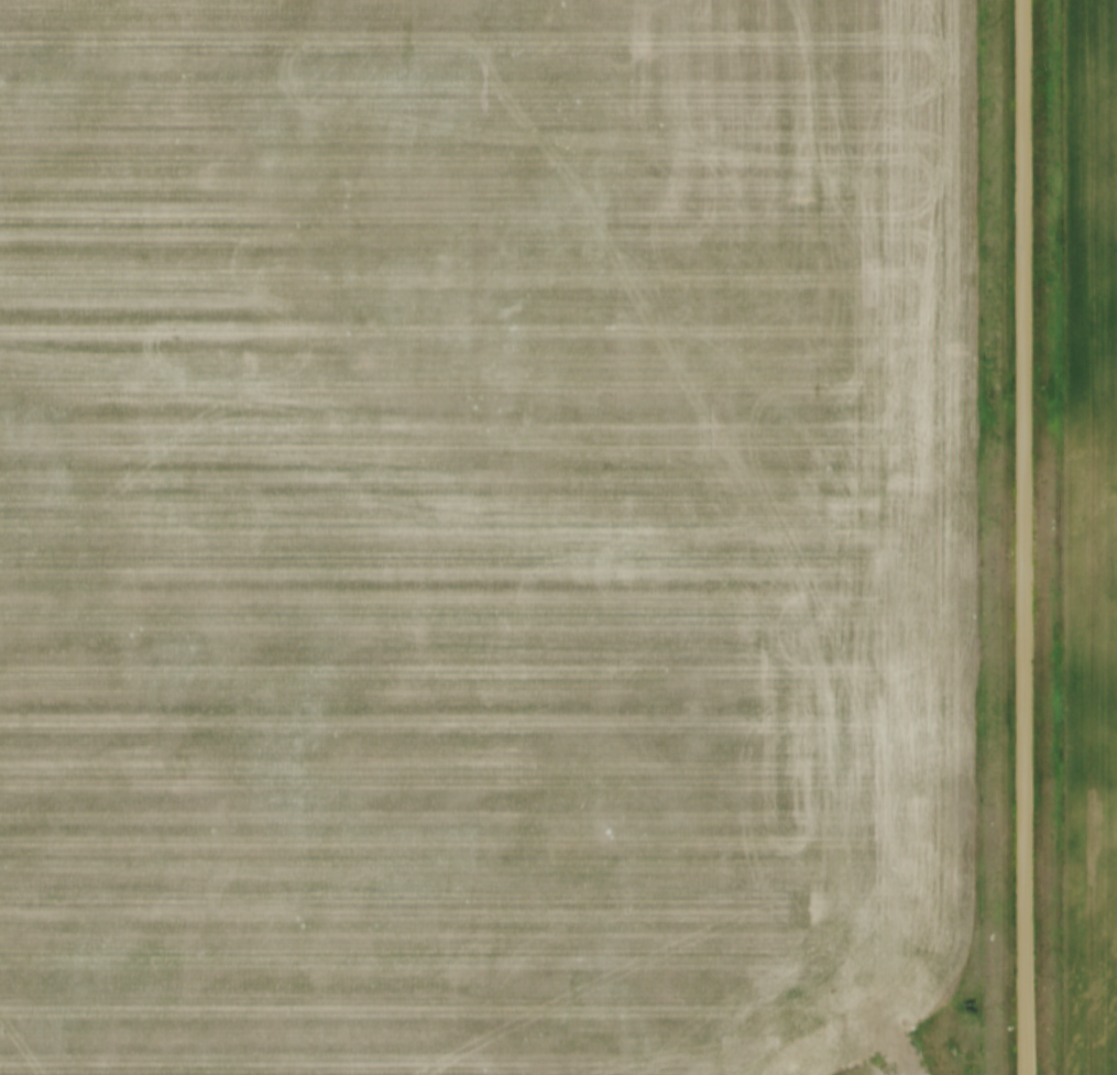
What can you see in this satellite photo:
road: (1027, 537)

